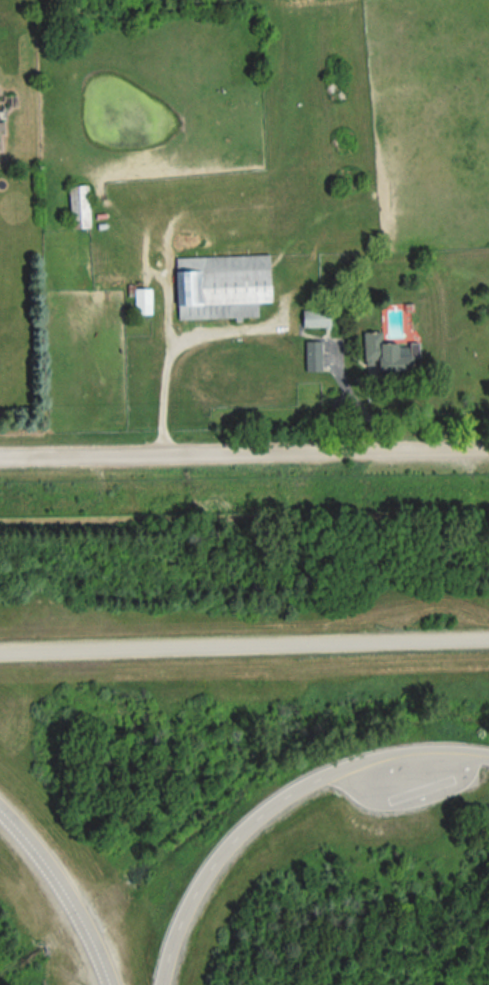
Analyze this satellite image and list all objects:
building: (1, 125)
building: (78, 206)
building: (221, 286)
building: (142, 300)
building: (316, 318)
road: (188, 328)
building: (388, 353)
building: (313, 355)
road: (152, 394)
road: (244, 453)
road: (244, 646)
road: (277, 799)
road: (64, 892)

